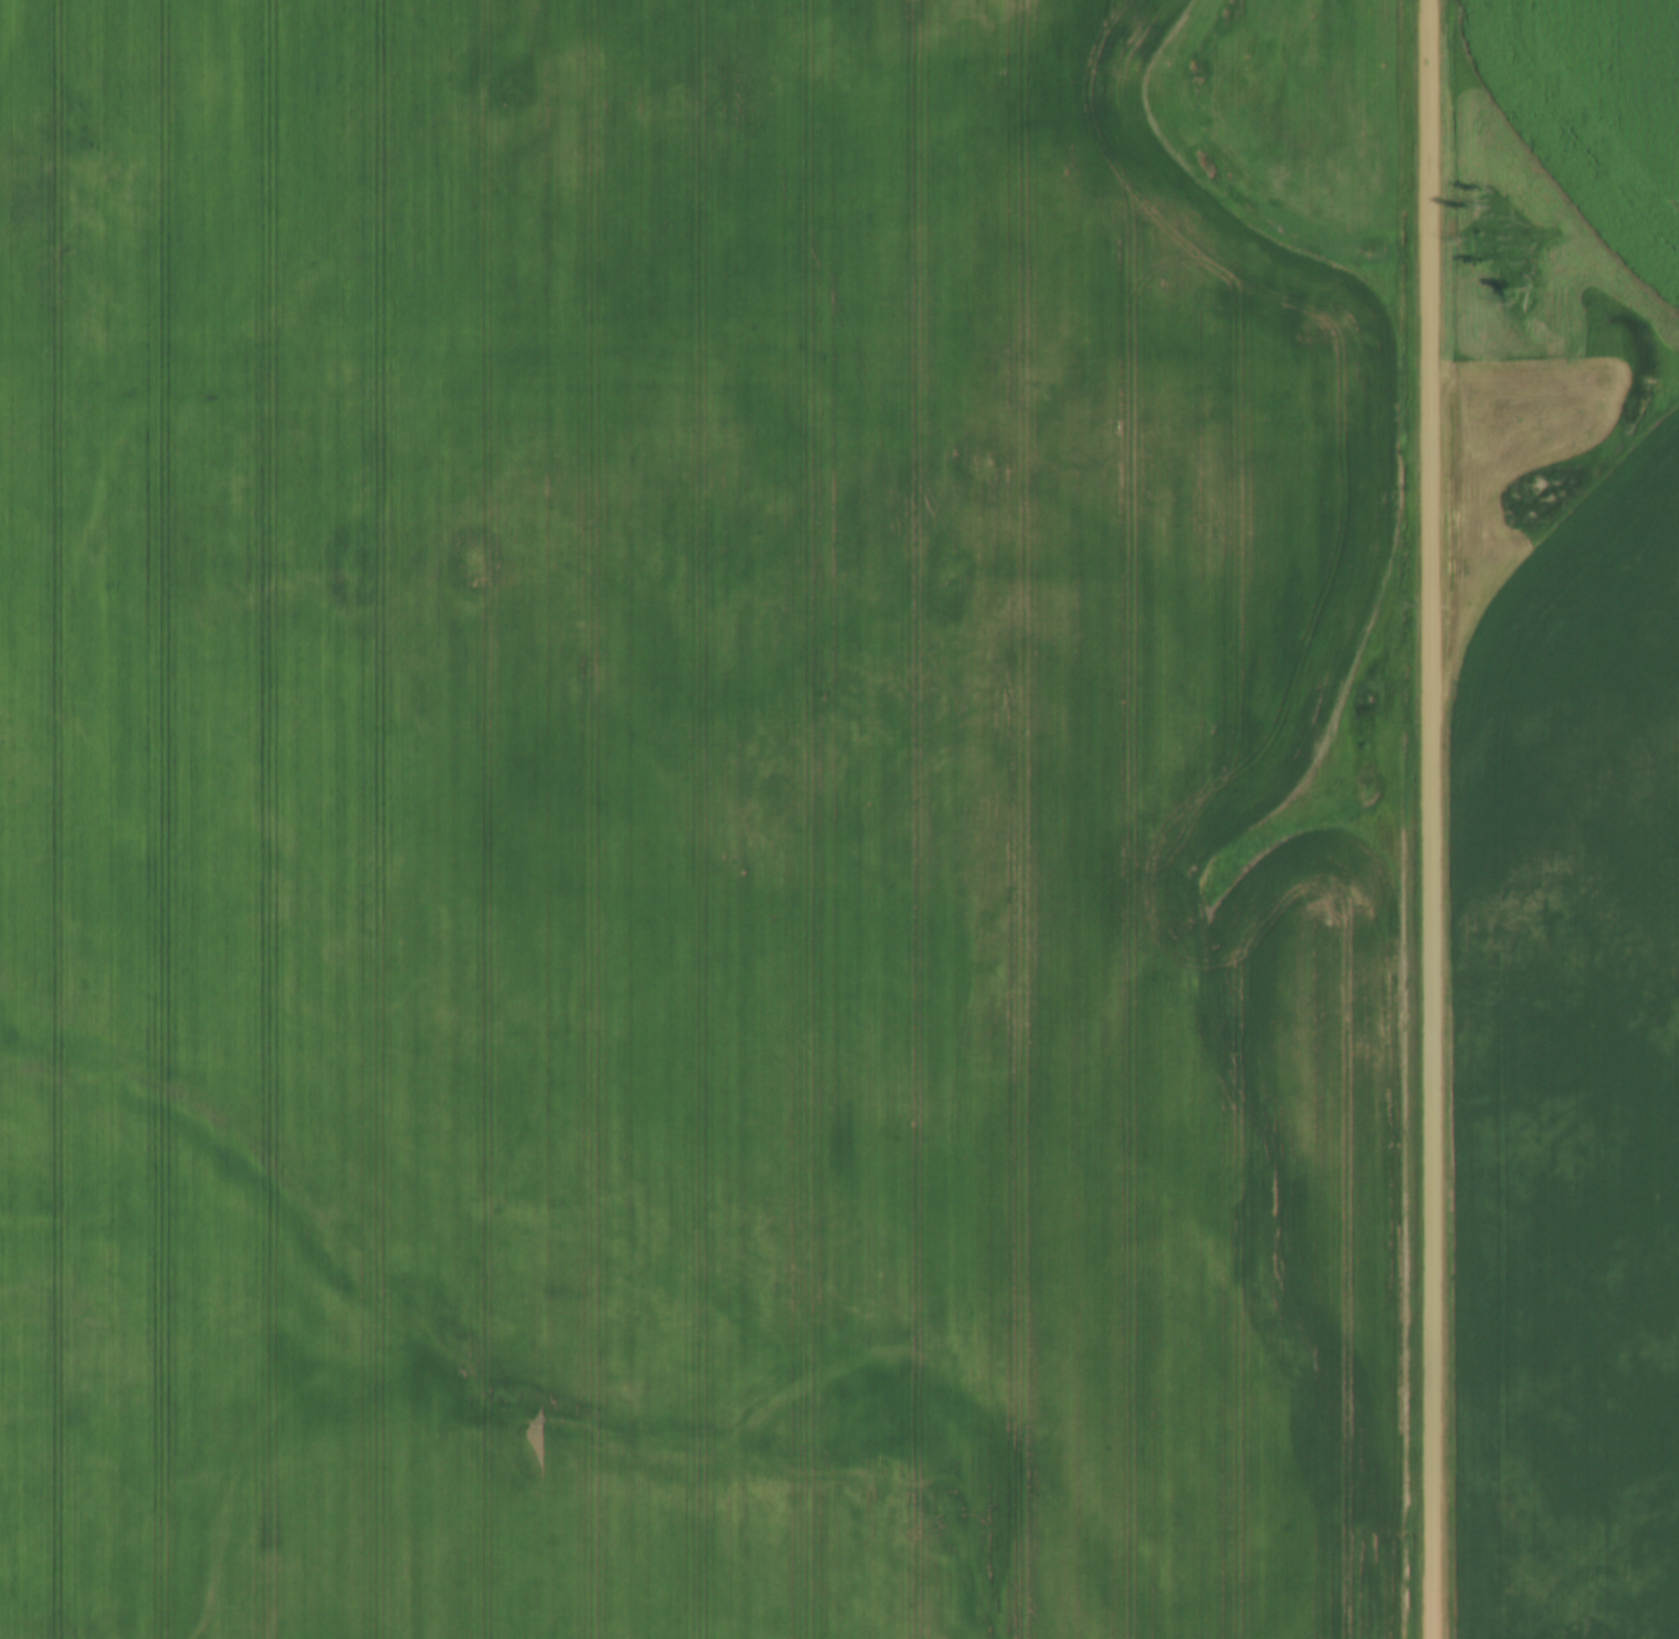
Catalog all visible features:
road: (1430, 819)

